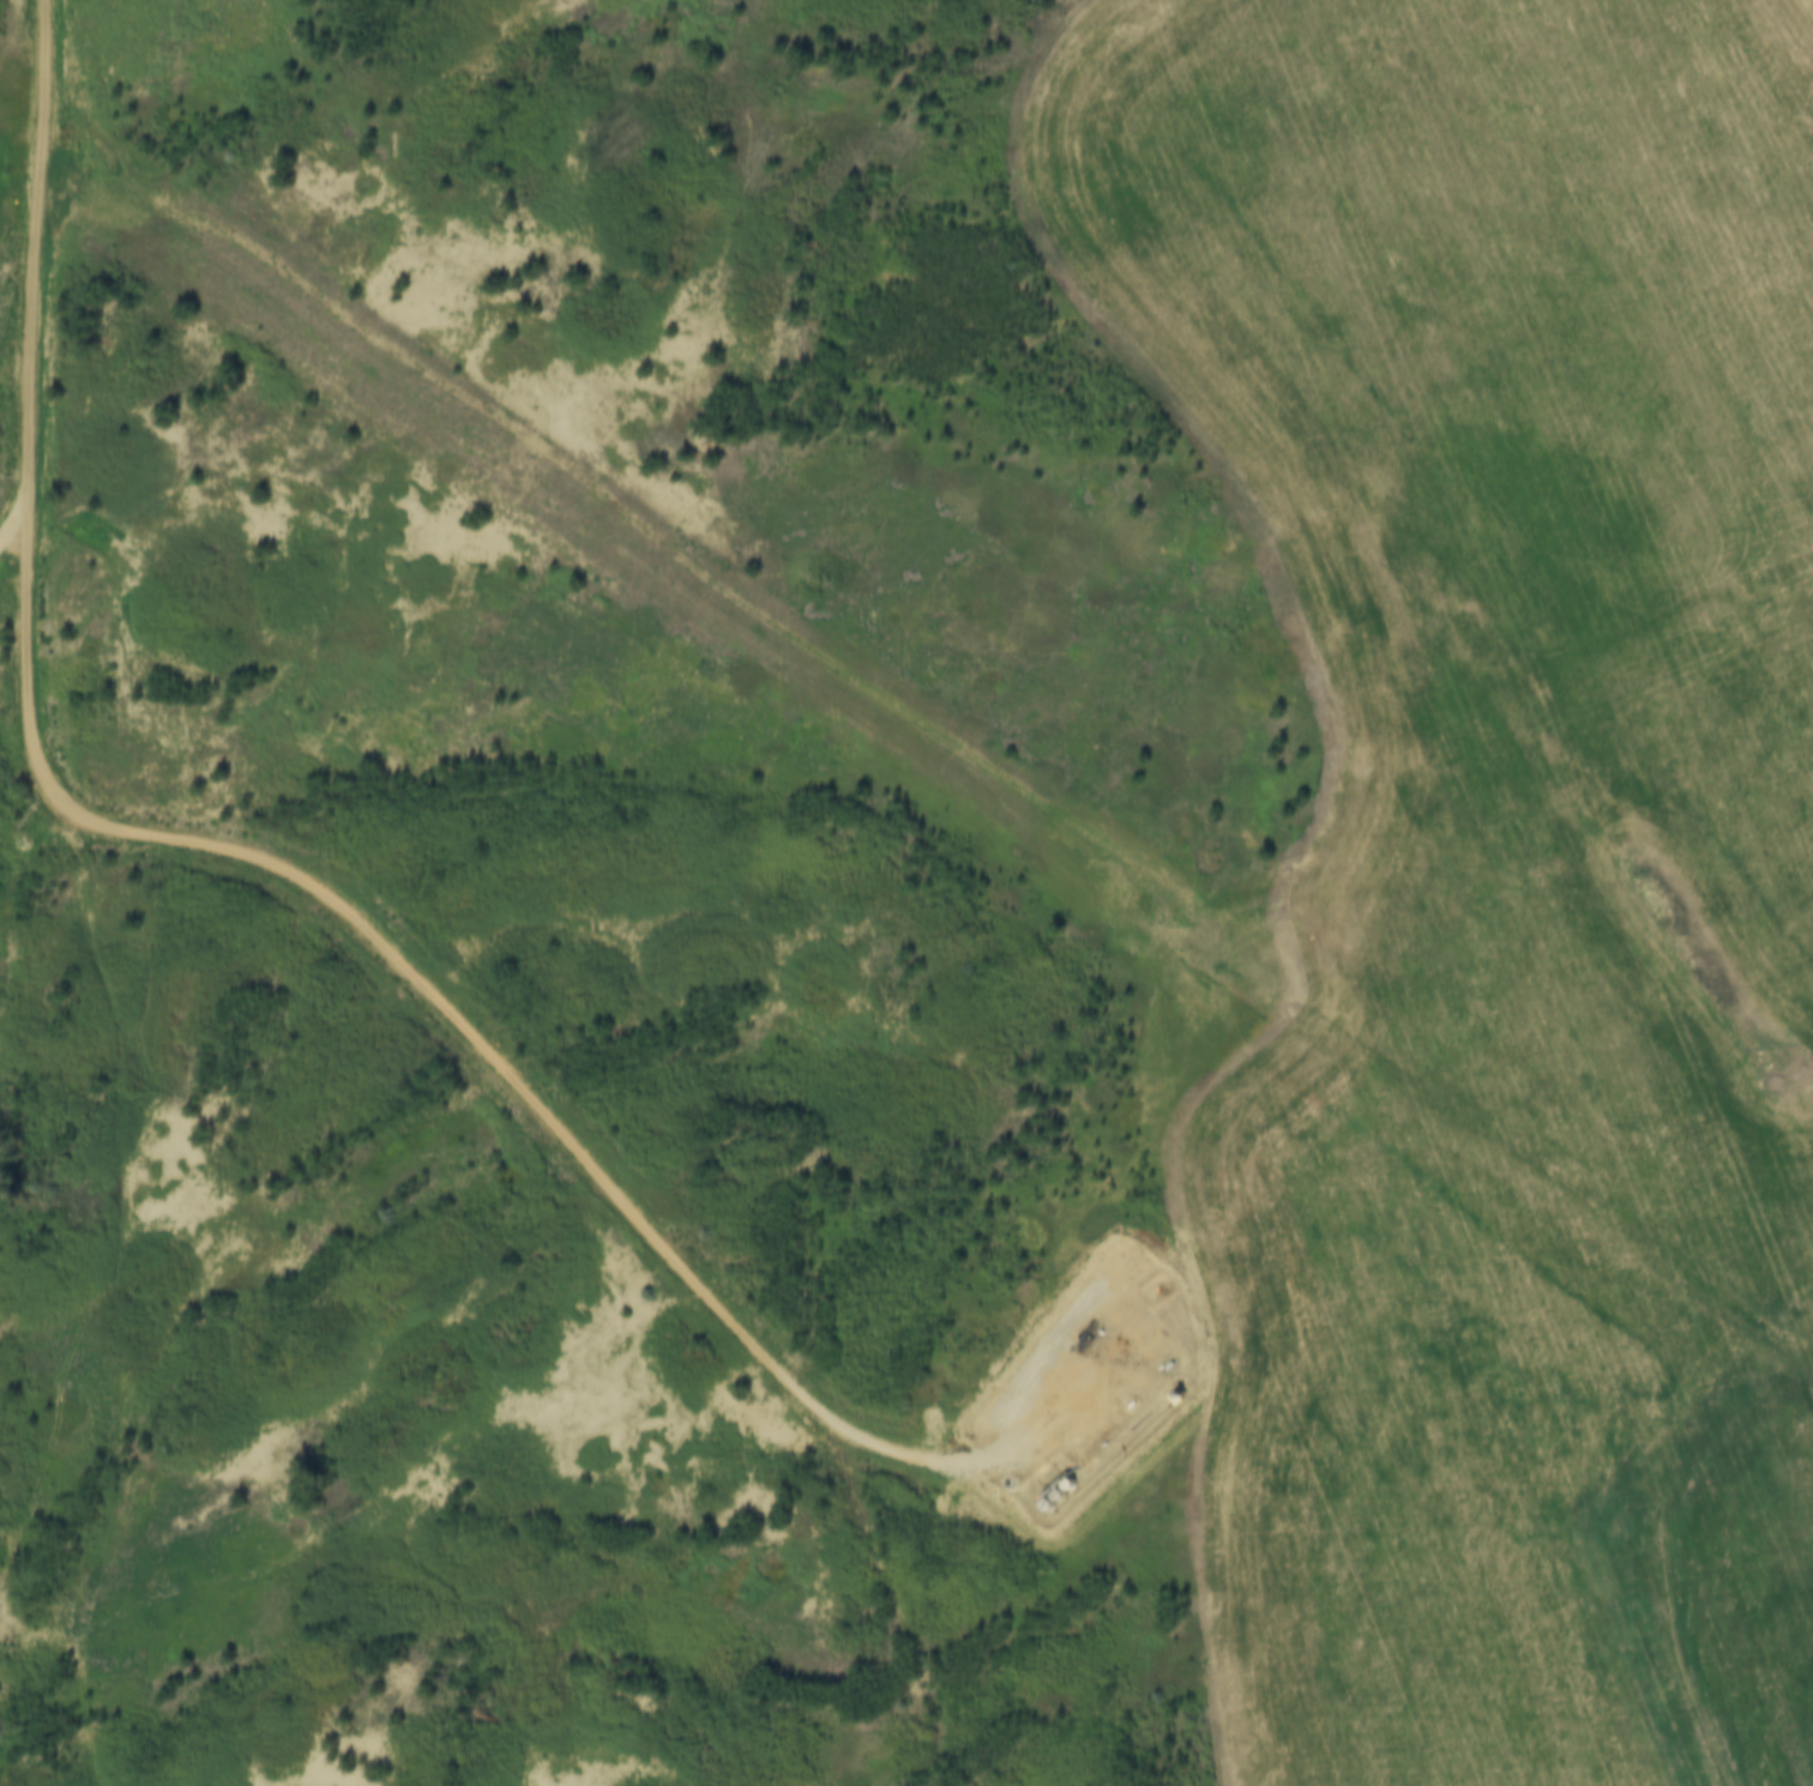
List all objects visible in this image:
road: (12, 495)
road: (343, 918)
road: (893, 1597)

